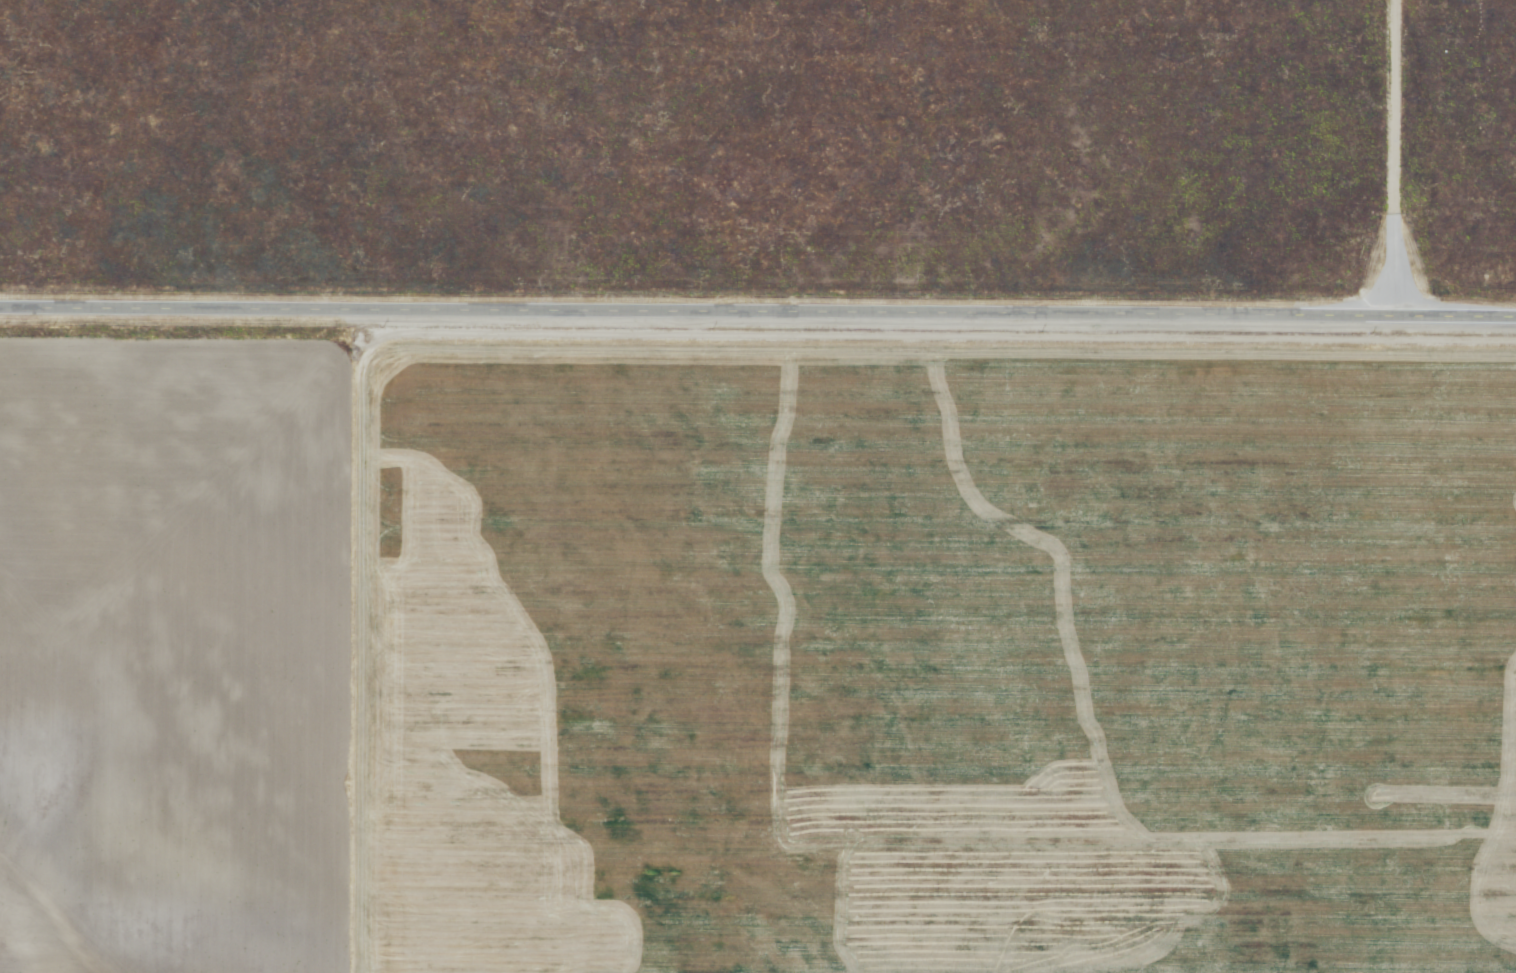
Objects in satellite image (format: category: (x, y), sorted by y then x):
solar farm: (971, 12)
road: (758, 315)

